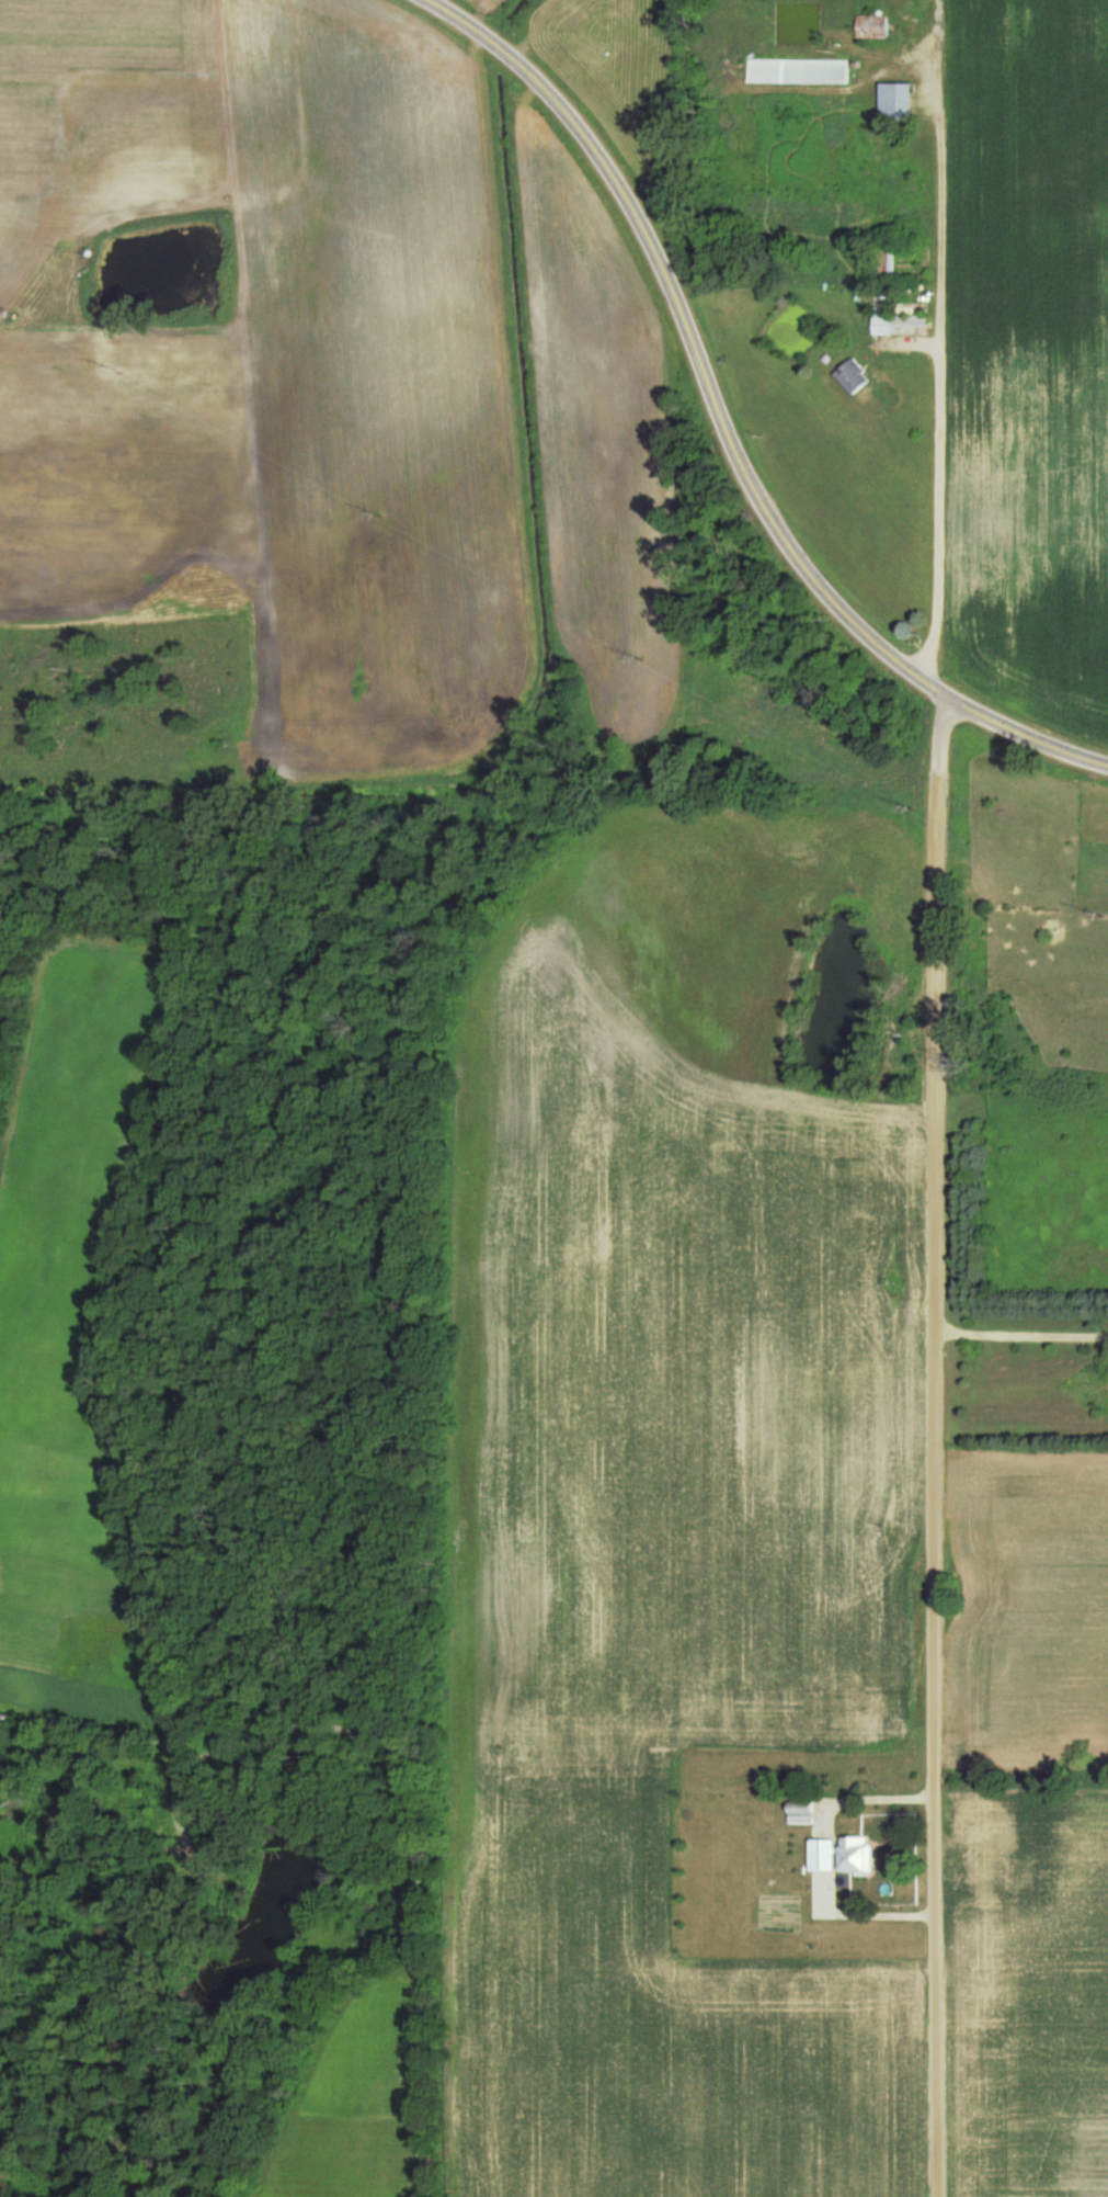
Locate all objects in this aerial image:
building: (876, 27)
building: (802, 72)
building: (902, 103)
building: (888, 263)
building: (901, 324)
power tower: (116, 371)
building: (855, 377)
road: (726, 428)
power tower: (391, 518)
power tower: (642, 660)
road: (938, 745)
road: (1021, 790)
power tower: (913, 807)
power tower: (1103, 915)
road: (936, 1493)
building: (807, 1815)
building: (830, 1856)
building: (864, 1857)
building: (829, 1891)

